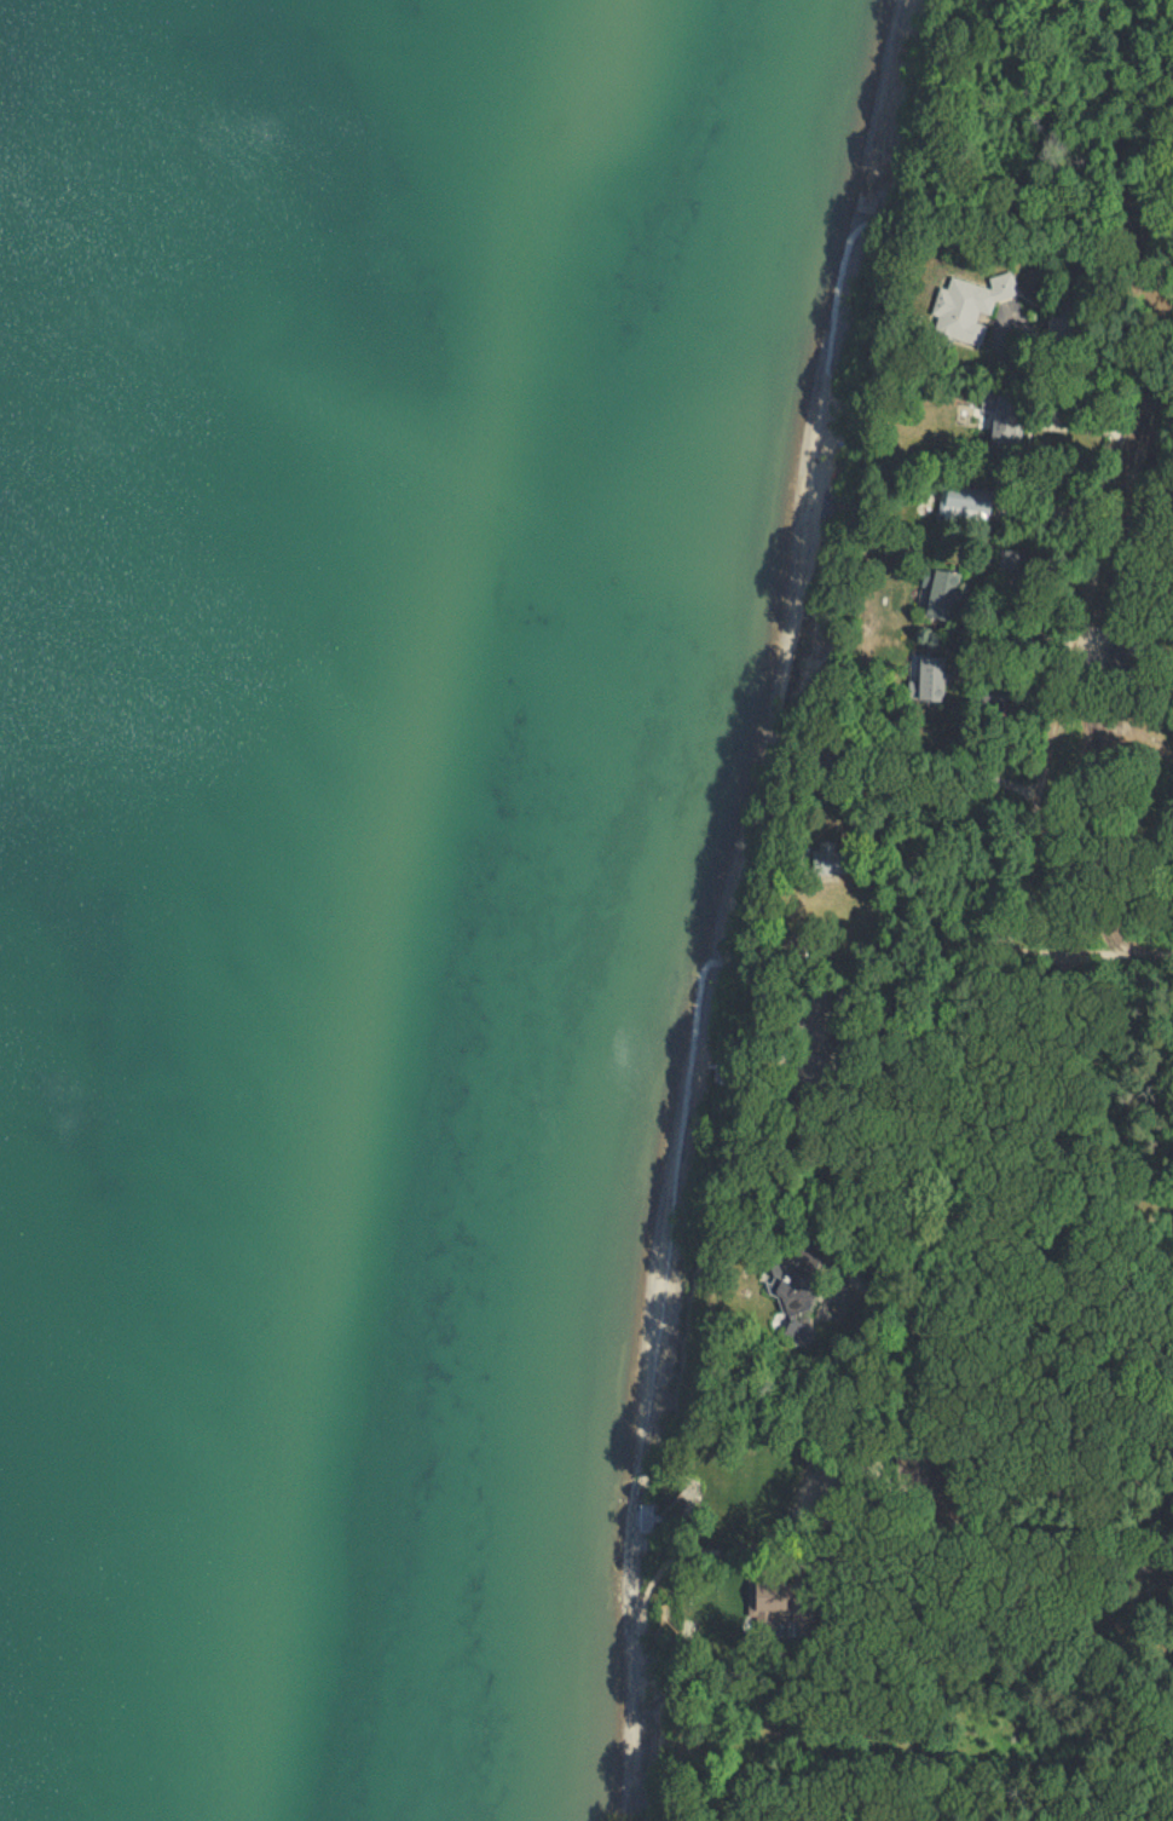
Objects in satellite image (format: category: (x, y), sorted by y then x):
building: (965, 304)
road: (1027, 311)
road: (1123, 340)
building: (935, 592)
road: (1087, 658)
building: (924, 682)
road: (1004, 1039)
road: (1100, 1220)
road: (853, 1281)
road: (792, 1532)
road: (885, 1620)

